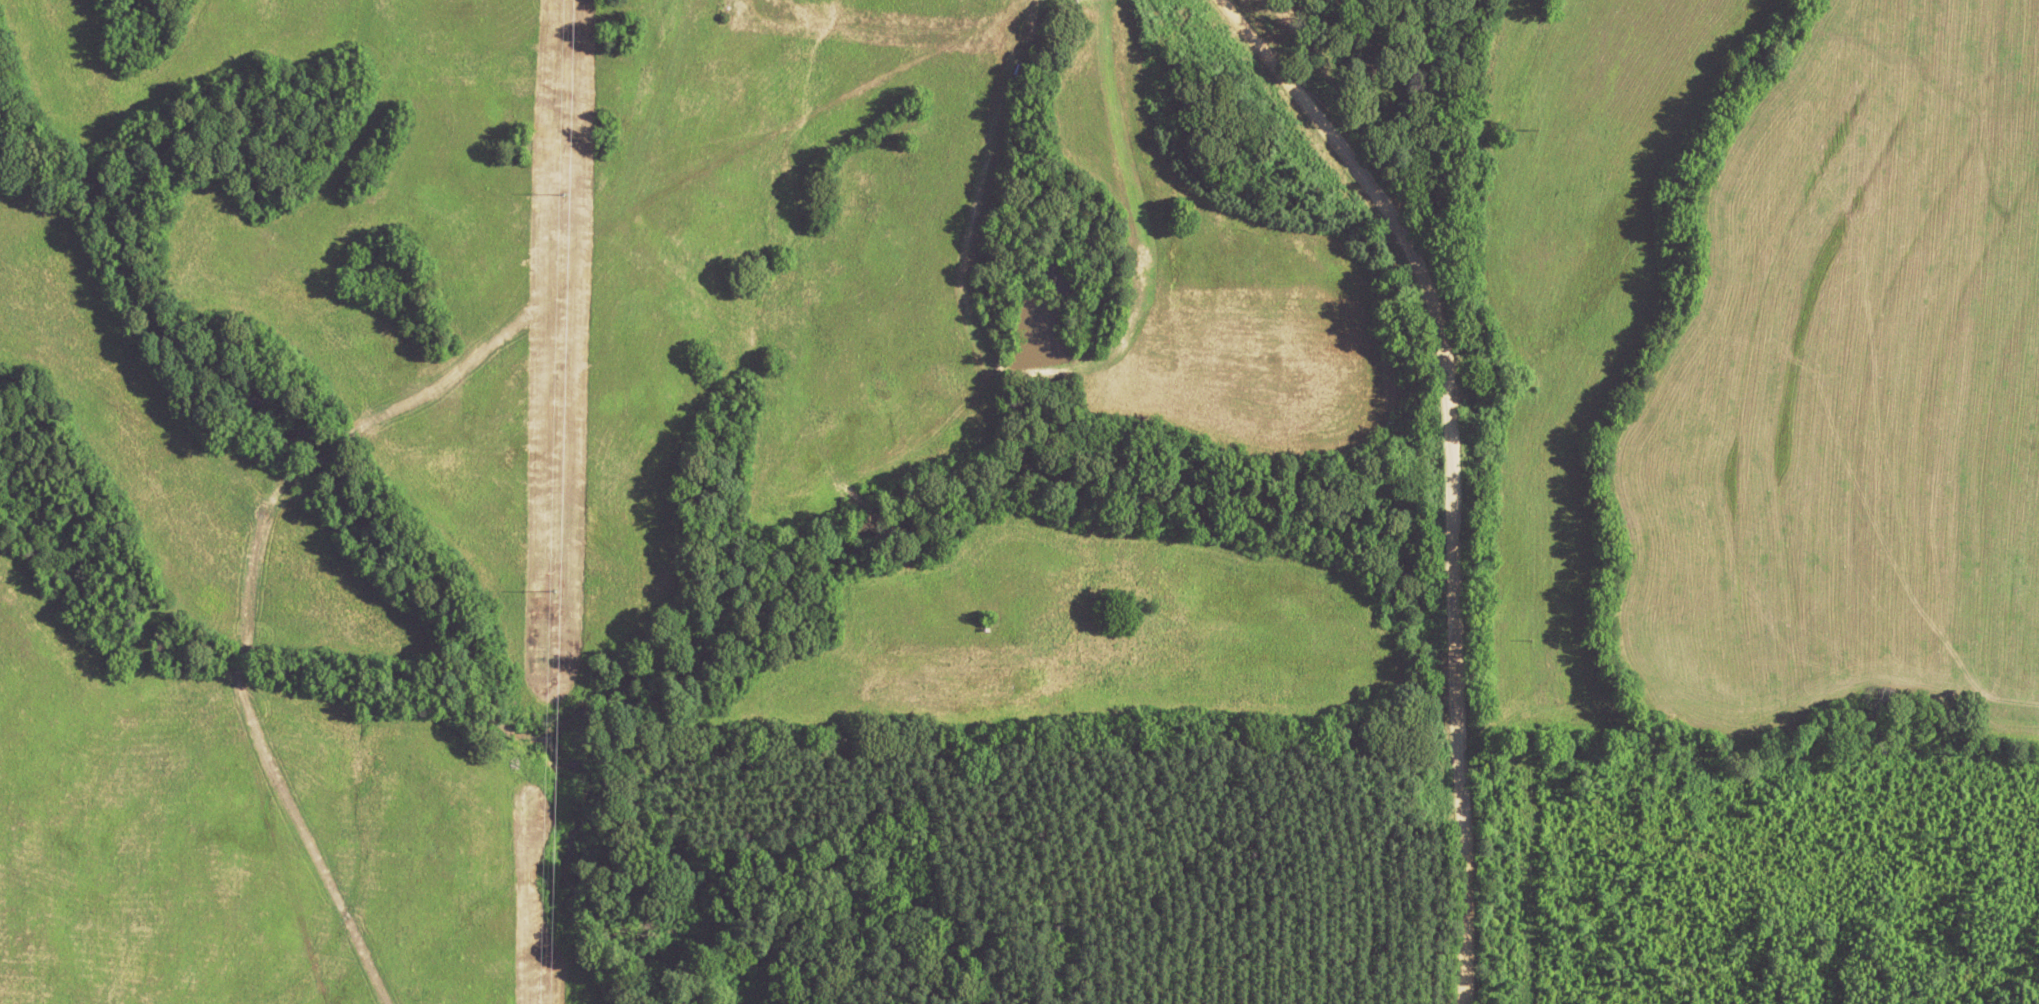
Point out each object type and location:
road: (1435, 468)

